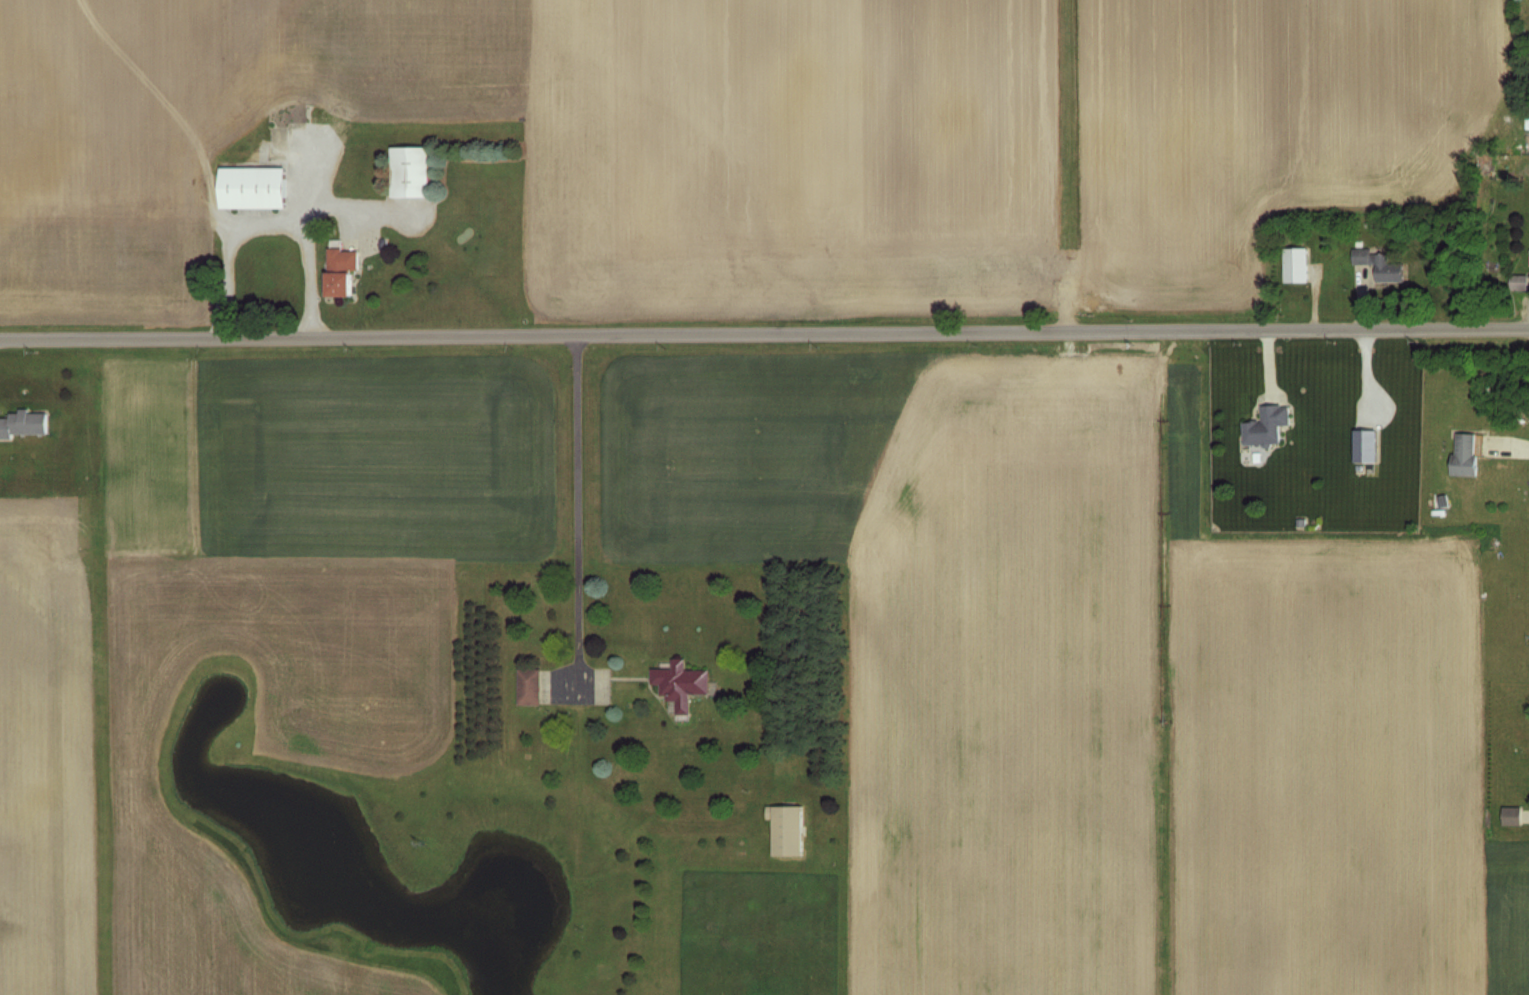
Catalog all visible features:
building: (1527, 135)
building: (409, 171)
building: (252, 187)
road: (272, 215)
building: (342, 259)
building: (1295, 264)
building: (1378, 264)
building: (338, 284)
building: (1518, 284)
road: (764, 329)
building: (23, 423)
building: (1266, 425)
road: (1512, 442)
building: (1364, 446)
building: (1465, 454)
road: (580, 505)
building: (680, 683)
building: (528, 684)
building: (1511, 815)
building: (787, 830)

